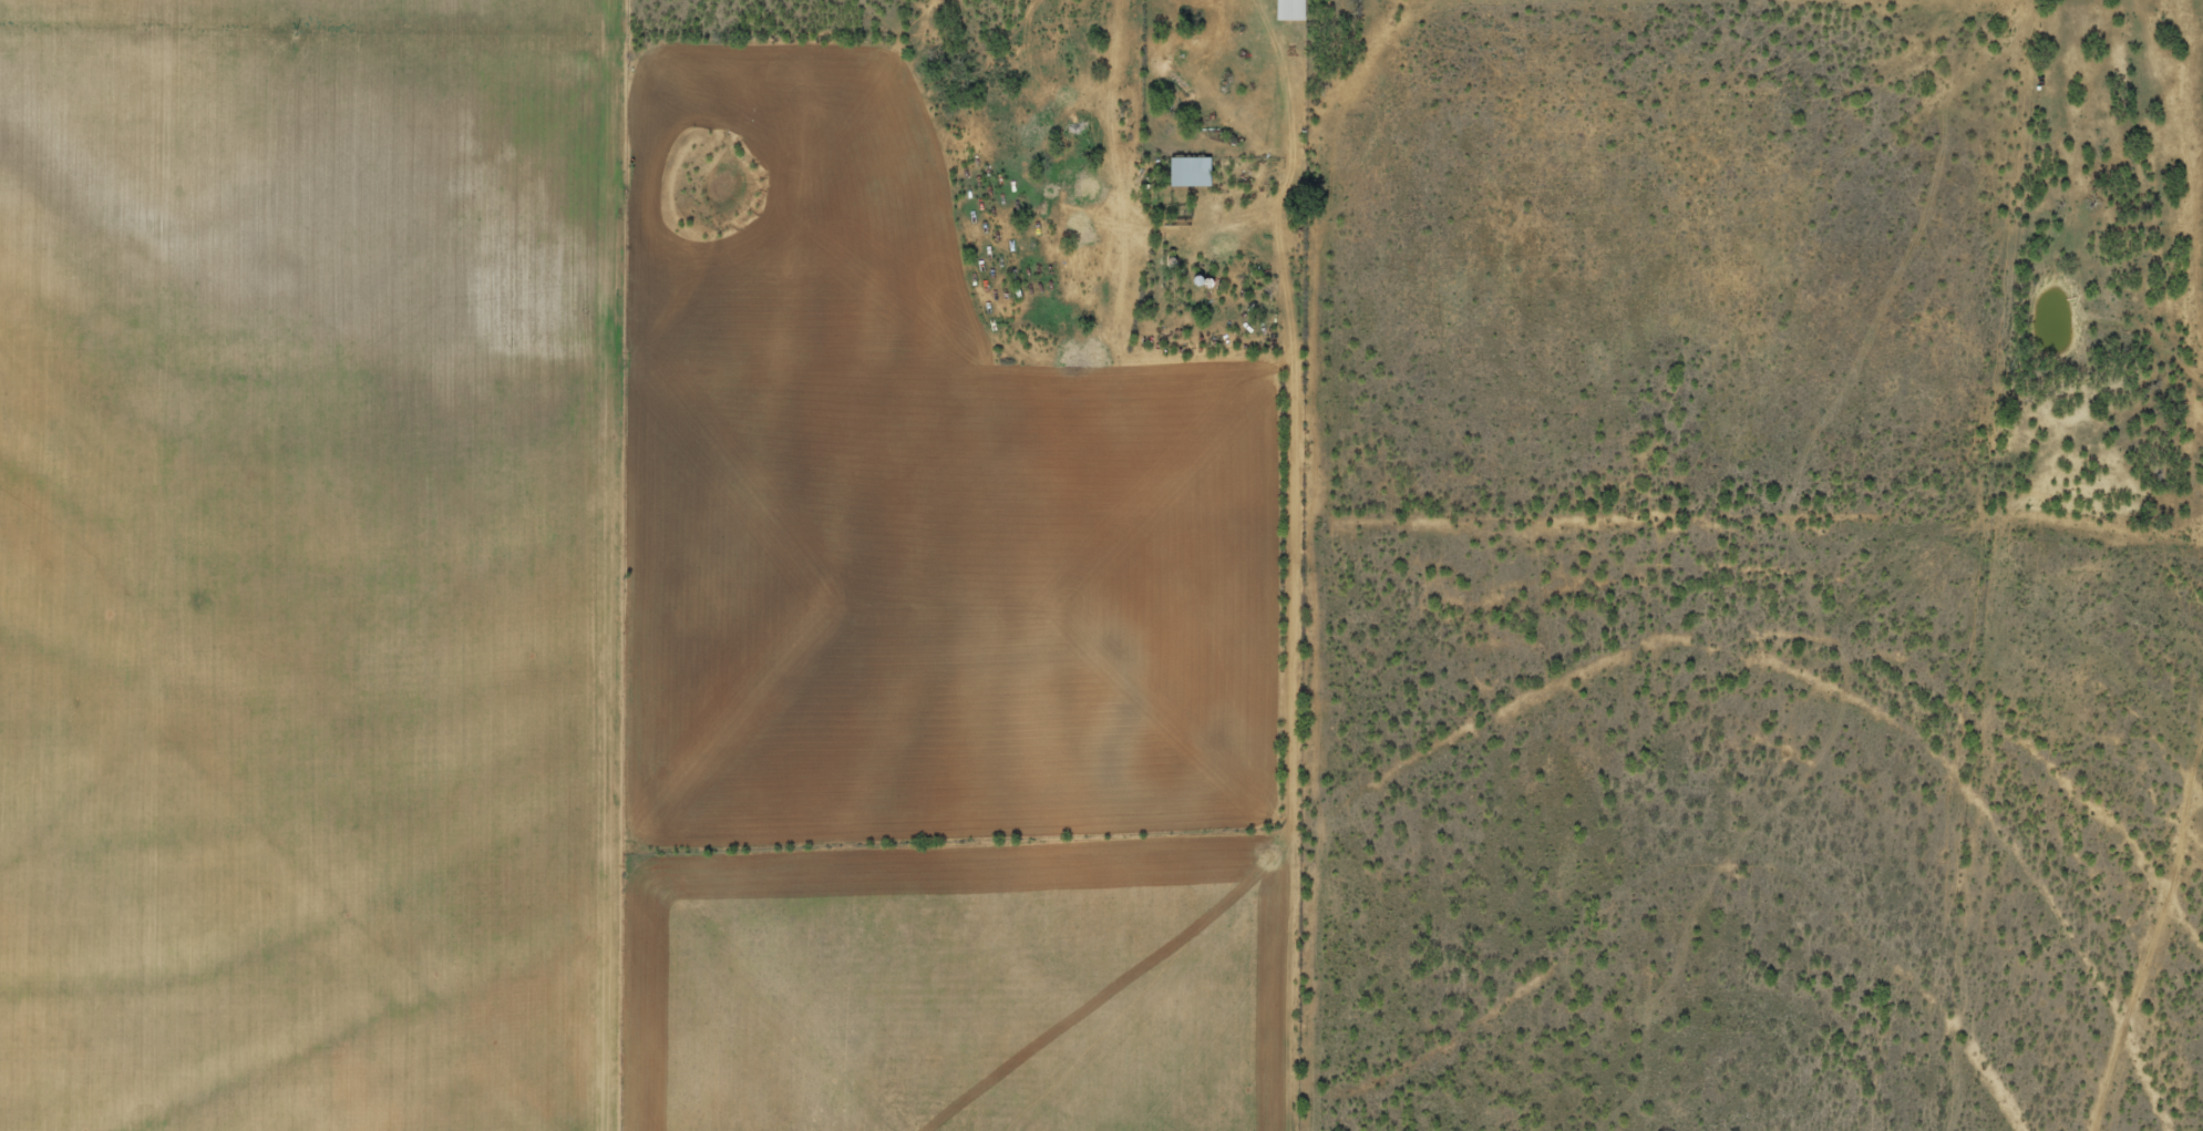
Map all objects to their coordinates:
building: (1283, 10)
road: (1312, 86)
building: (1182, 171)

